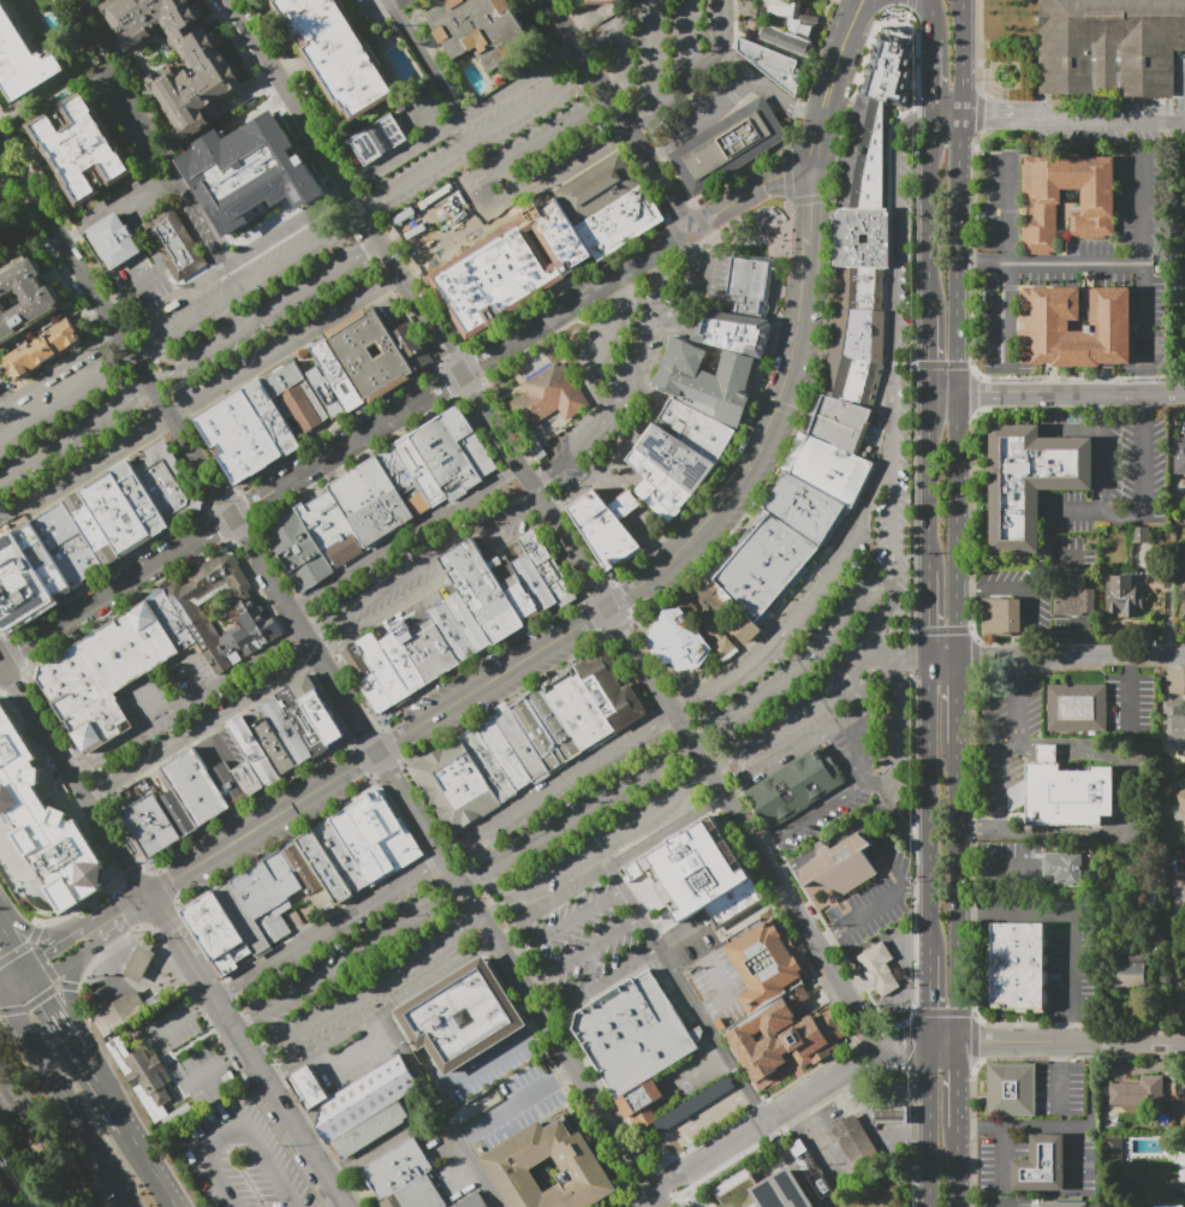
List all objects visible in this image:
building: (605, 1)
road: (848, 4)
road: (857, 4)
road: (861, 4)
road: (863, 4)
road: (910, 4)
building: (794, 17)
road: (927, 18)
road: (931, 20)
road: (250, 31)
building: (482, 31)
road: (619, 35)
road: (689, 37)
building: (785, 41)
parking lot: (663, 44)
building: (1112, 46)
road: (978, 47)
road: (572, 49)
building: (340, 53)
road: (654, 53)
building: (180, 58)
road: (427, 58)
building: (23, 59)
road: (966, 59)
building: (774, 65)
road: (698, 66)
building: (892, 67)
road: (588, 73)
road: (933, 79)
road: (828, 88)
road: (614, 91)
road: (1183, 97)
road: (1082, 99)
road: (784, 100)
road: (605, 105)
road: (703, 113)
road: (979, 114)
road: (621, 115)
road: (463, 117)
road: (949, 118)
road: (996, 118)
road: (1104, 119)
parking lot: (1109, 121)
road: (145, 125)
road: (310, 127)
road: (629, 129)
road: (303, 135)
building: (376, 139)
road: (480, 141)
building: (728, 145)
building: (82, 148)
parking lot: (483, 154)
building: (867, 154)
road: (653, 155)
road: (245, 171)
building: (246, 171)
road: (495, 173)
road: (776, 178)
road: (356, 188)
building: (597, 188)
road: (972, 190)
road: (153, 196)
road: (344, 198)
road: (513, 201)
building: (1037, 204)
road: (363, 213)
road: (126, 214)
road: (931, 218)
road: (208, 220)
road: (808, 220)
building: (620, 222)
park: (758, 232)
road: (67, 237)
road: (696, 237)
building: (863, 237)
road: (680, 238)
building: (114, 242)
road: (381, 243)
building: (175, 244)
road: (964, 255)
road: (655, 262)
road: (971, 262)
road: (985, 262)
road: (1008, 262)
road: (1076, 262)
road: (231, 266)
building: (511, 267)
road: (1143, 268)
road: (897, 272)
road: (399, 273)
building: (750, 281)
road: (136, 285)
road: (619, 285)
building: (862, 287)
road: (244, 289)
building: (23, 296)
parking lot: (261, 301)
road: (108, 302)
park: (1181, 303)
road: (695, 304)
road: (263, 315)
building: (1078, 323)
road: (969, 325)
building: (1042, 325)
building: (734, 332)
road: (119, 334)
building: (859, 334)
road: (282, 346)
building: (412, 346)
building: (46, 351)
road: (600, 353)
road: (931, 355)
building: (371, 356)
road: (133, 358)
road: (941, 364)
road: (55, 373)
parking lot: (627, 373)
building: (338, 375)
building: (709, 380)
building: (851, 380)
road: (148, 385)
road: (626, 386)
road: (1144, 386)
building: (326, 392)
road: (946, 392)
road: (1072, 392)
road: (973, 394)
building: (549, 397)
building: (297, 399)
road: (62, 402)
road: (480, 402)
road: (1, 403)
road: (169, 417)
building: (273, 417)
building: (458, 422)
building: (844, 424)
parking lot: (65, 430)
building: (697, 430)
road: (1073, 430)
road: (71, 435)
building: (239, 438)
road: (626, 450)
building: (478, 454)
building: (446, 456)
building: (1179, 456)
building: (678, 459)
road: (749, 464)
building: (829, 468)
road: (309, 470)
building: (421, 471)
road: (81, 472)
road: (514, 472)
road: (537, 480)
building: (662, 480)
road: (931, 481)
building: (1032, 481)
building: (404, 482)
building: (168, 484)
building: (362, 487)
road: (912, 497)
building: (141, 498)
road: (970, 498)
road: (221, 499)
road: (531, 500)
building: (660, 501)
building: (625, 505)
road: (1073, 509)
road: (555, 510)
building: (809, 510)
building: (115, 513)
road: (1123, 517)
building: (381, 518)
road: (893, 521)
road: (960, 523)
building: (56, 525)
building: (331, 529)
building: (94, 530)
building: (605, 530)
building: (1139, 534)
road: (406, 539)
building: (296, 549)
building: (42, 560)
building: (78, 561)
parking lot: (418, 563)
road: (421, 563)
building: (767, 565)
building: (548, 569)
building: (535, 583)
building: (19, 585)
building: (516, 589)
road: (965, 590)
road: (1026, 590)
building: (483, 591)
road: (971, 593)
building: (1124, 594)
building: (1183, 597)
road: (811, 599)
road: (893, 599)
building: (1076, 599)
road: (297, 606)
road: (394, 611)
building: (222, 612)
road: (931, 613)
building: (1001, 617)
building: (722, 619)
building: (173, 620)
road: (971, 622)
building: (470, 623)
road: (941, 629)
road: (314, 632)
road: (873, 632)
building: (453, 634)
building: (679, 642)
building: (428, 649)
road: (1026, 649)
road: (326, 653)
road: (975, 655)
road: (876, 656)
road: (1058, 656)
road: (913, 658)
road: (312, 660)
road: (806, 661)
building: (357, 662)
road: (1, 664)
building: (404, 664)
road: (1023, 664)
road: (852, 667)
building: (383, 670)
building: (106, 674)
road: (493, 680)
parking lot: (757, 684)
building: (612, 689)
building: (376, 694)
road: (187, 701)
road: (960, 701)
road: (1019, 706)
parking lot: (191, 708)
building: (1077, 708)
building: (580, 709)
building: (321, 710)
road: (674, 713)
building: (303, 721)
road: (786, 721)
building: (1175, 723)
building: (555, 724)
road: (44, 729)
road: (203, 729)
building: (287, 732)
building: (540, 735)
building: (520, 742)
road: (692, 743)
road: (1028, 747)
building: (274, 748)
road: (802, 749)
building: (254, 751)
road: (1068, 751)
road: (1047, 753)
building: (506, 754)
road: (8, 760)
road: (839, 761)
parking lot: (19, 763)
building: (489, 766)
road: (711, 772)
road: (1000, 773)
road: (8, 780)
building: (249, 780)
building: (1184, 780)
road: (887, 781)
building: (228, 785)
building: (455, 785)
building: (797, 787)
road: (554, 789)
building: (197, 790)
building: (1066, 792)
road: (95, 797)
road: (1125, 798)
road: (726, 799)
road: (931, 807)
building: (1179, 808)
building: (179, 815)
road: (578, 815)
road: (811, 816)
building: (375, 819)
road: (1000, 821)
road: (264, 824)
road: (907, 825)
building: (153, 827)
road: (744, 828)
road: (869, 830)
road: (979, 830)
road: (844, 831)
road: (597, 844)
road: (822, 846)
road: (118, 848)
building: (358, 848)
building: (66, 851)
building: (398, 851)
building: (343, 858)
building: (708, 862)
road: (797, 863)
traffic signals: (130, 866)
building: (842, 867)
building: (326, 869)
building: (1062, 869)
road: (612, 870)
road: (1005, 873)
road: (967, 874)
building: (285, 875)
building: (310, 879)
traffic signals: (173, 881)
road: (36, 882)
road: (462, 887)
road: (918, 887)
road: (963, 893)
building: (266, 902)
building: (736, 906)
road: (967, 909)
road: (1018, 909)
road: (868, 911)
road: (120, 912)
traffic signals: (123, 912)
road: (482, 916)
road: (572, 918)
building: (244, 920)
road: (337, 926)
parking lot: (620, 928)
road: (34, 932)
traffic signals: (171, 932)
road: (81, 934)
building: (218, 935)
road: (89, 937)
road: (679, 937)
road: (923, 937)
road: (504, 938)
road: (823, 939)
road: (905, 943)
road: (492, 945)
road: (16, 947)
road: (590, 947)
road: (181, 949)
road: (1171, 950)
road: (48, 953)
road: (514, 955)
traffic signals: (46, 956)
road: (347, 958)
road: (60, 961)
building: (139, 965)
building: (768, 965)
road: (1062, 965)
building: (1020, 967)
building: (880, 969)
parking lot: (353, 970)
building: (1130, 971)
road: (609, 979)
road: (16, 981)
road: (531, 982)
road: (368, 987)
road: (923, 993)
road: (689, 994)
road: (72, 995)
road: (909, 997)
traffic signals: (47, 998)
road: (222, 998)
road: (931, 999)
road: (208, 1006)
road: (55, 1011)
road: (385, 1011)
building: (120, 1013)
road: (553, 1016)
building: (464, 1018)
road: (540, 1023)
road: (239, 1024)
road: (548, 1024)
road: (1064, 1033)
building: (635, 1035)
building: (787, 1037)
road: (23, 1041)
road: (921, 1041)
road: (1073, 1042)
road: (1064, 1050)
road: (1094, 1050)
road: (237, 1051)
road: (258, 1054)
road: (171, 1058)
road: (483, 1058)
road: (863, 1059)
road: (699, 1063)
road: (570, 1072)
building: (151, 1077)
road: (274, 1080)
road: (963, 1082)
road: (1062, 1083)
road: (103, 1089)
building: (308, 1089)
building: (1012, 1089)
building: (1138, 1092)
road: (1094, 1096)
road: (70, 1098)
building: (365, 1099)
building: (643, 1102)
parking lot: (13, 1104)
road: (279, 1104)
building: (692, 1104)
road: (512, 1106)
road: (12, 1107)
road: (443, 1110)
building: (892, 1114)
gas station: (892, 1114)
road: (704, 1116)
road: (758, 1124)
road: (930, 1124)
road: (967, 1124)
road: (989, 1124)
road: (1041, 1125)
building: (373, 1131)
building: (37, 1134)
road: (230, 1135)
building: (858, 1144)
park: (42, 1148)
building: (1112, 1148)
road: (693, 1155)
road: (1005, 1155)
road: (1076, 1157)
parking lot: (238, 1159)
road: (791, 1164)
building: (1042, 1164)
road: (961, 1165)
road: (151, 1167)
building: (550, 1167)
building: (399, 1170)
road: (10, 1181)
road: (661, 1185)
building: (1175, 1188)
building: (782, 1191)
building: (417, 1195)
road: (642, 1199)
road: (656, 1199)
building: (474, 1201)
building: (1064, 1203)
road: (631, 1206)
road: (1006, 1206)
building: (1168, 1206)

